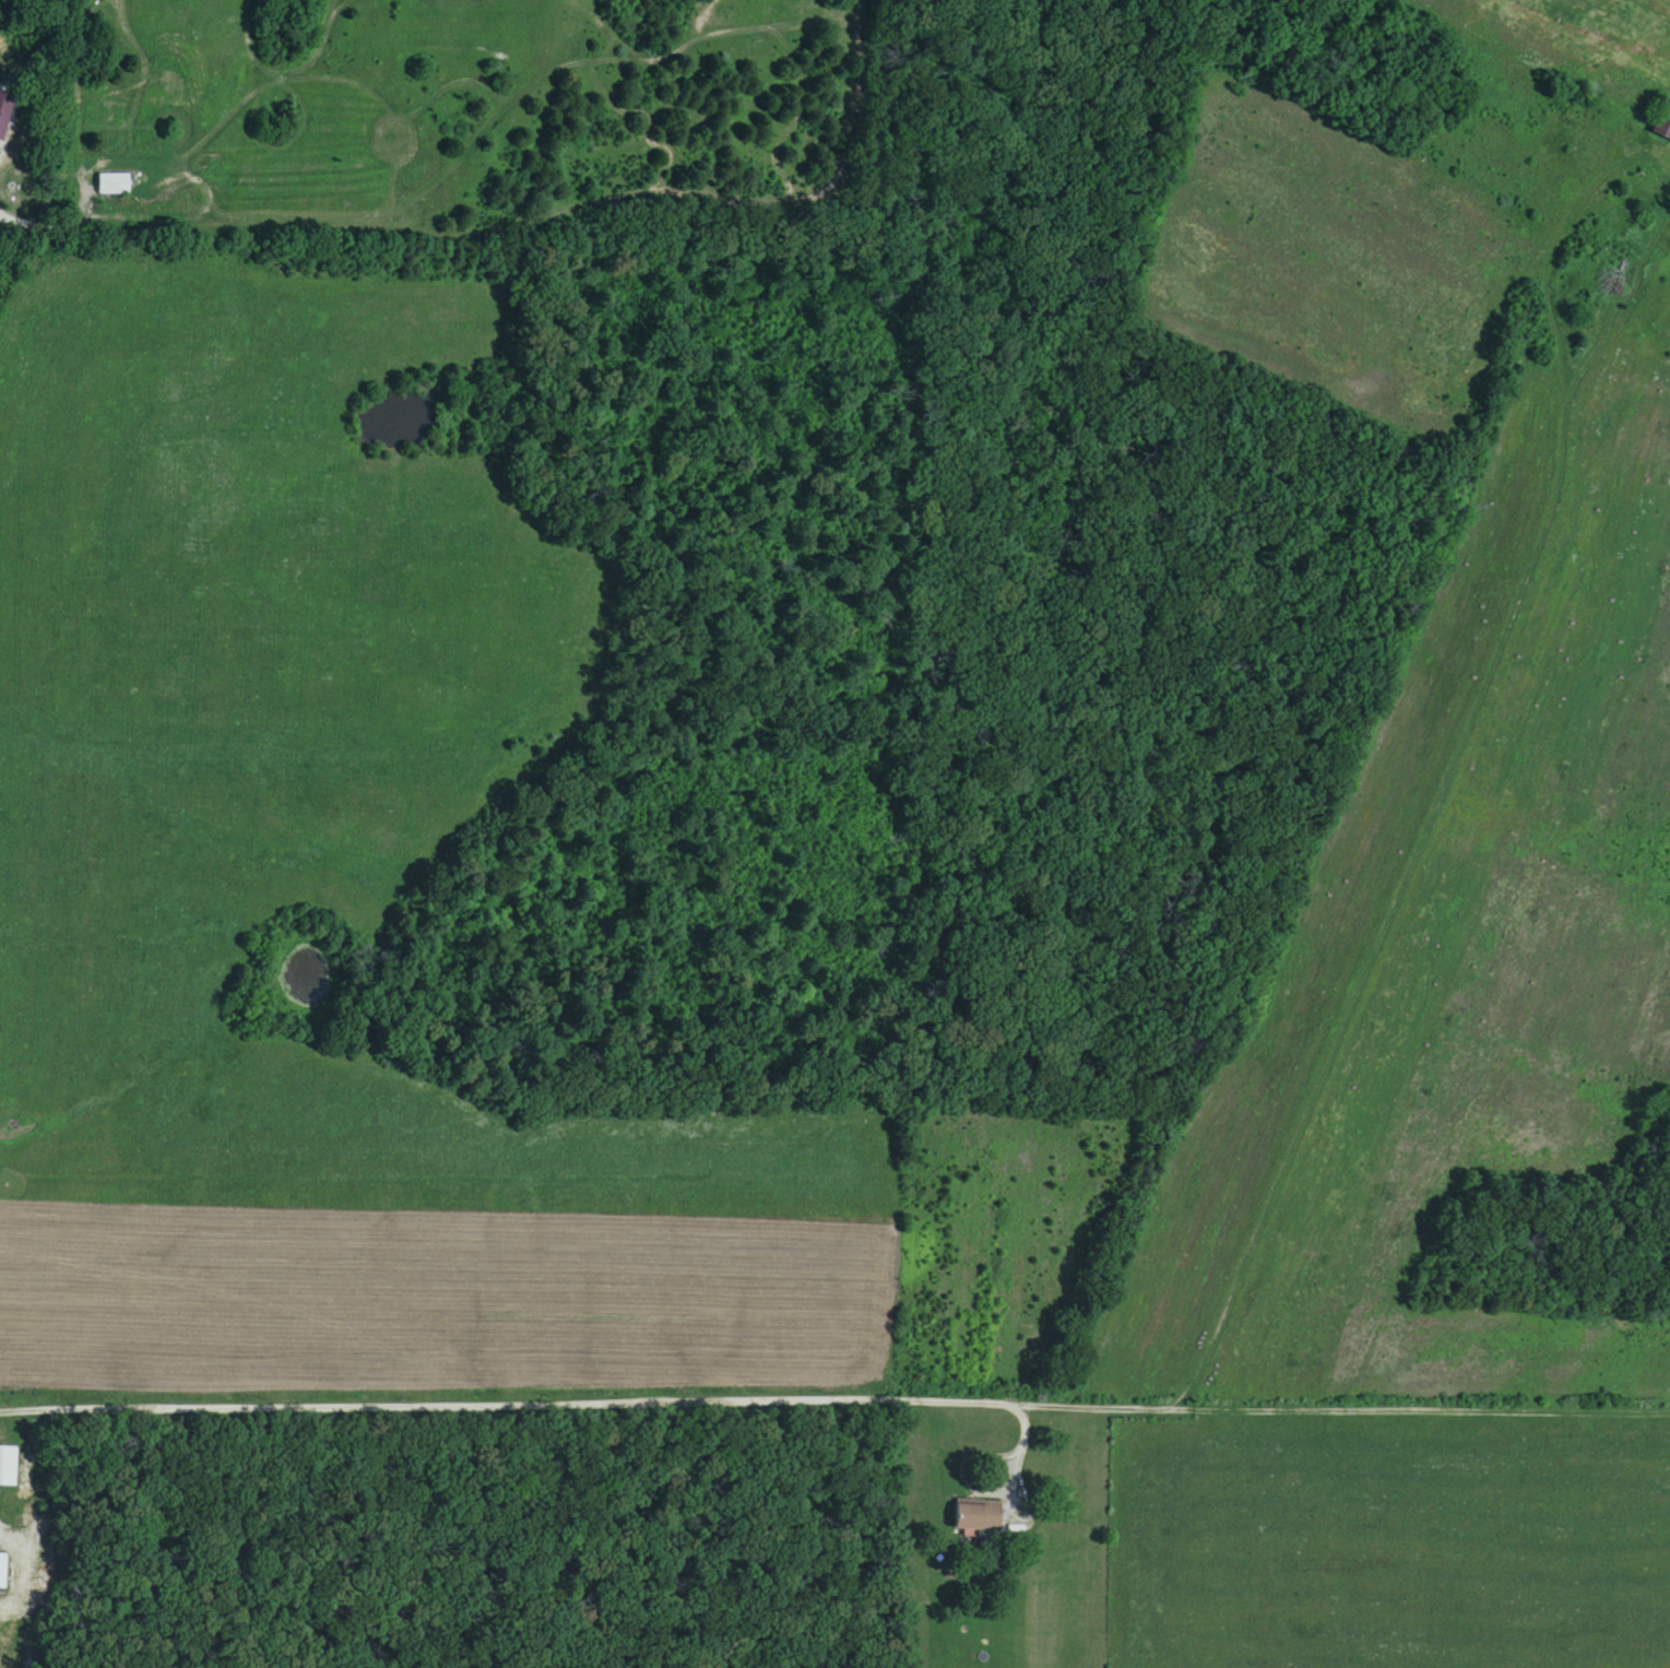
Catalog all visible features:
building: (2, 108)
building: (1667, 132)
building: (114, 186)
road: (1584, 198)
road: (1434, 811)
road: (834, 1403)
building: (8, 1467)
road: (1018, 1470)
building: (978, 1517)
road: (1, 1533)
building: (2, 1571)

